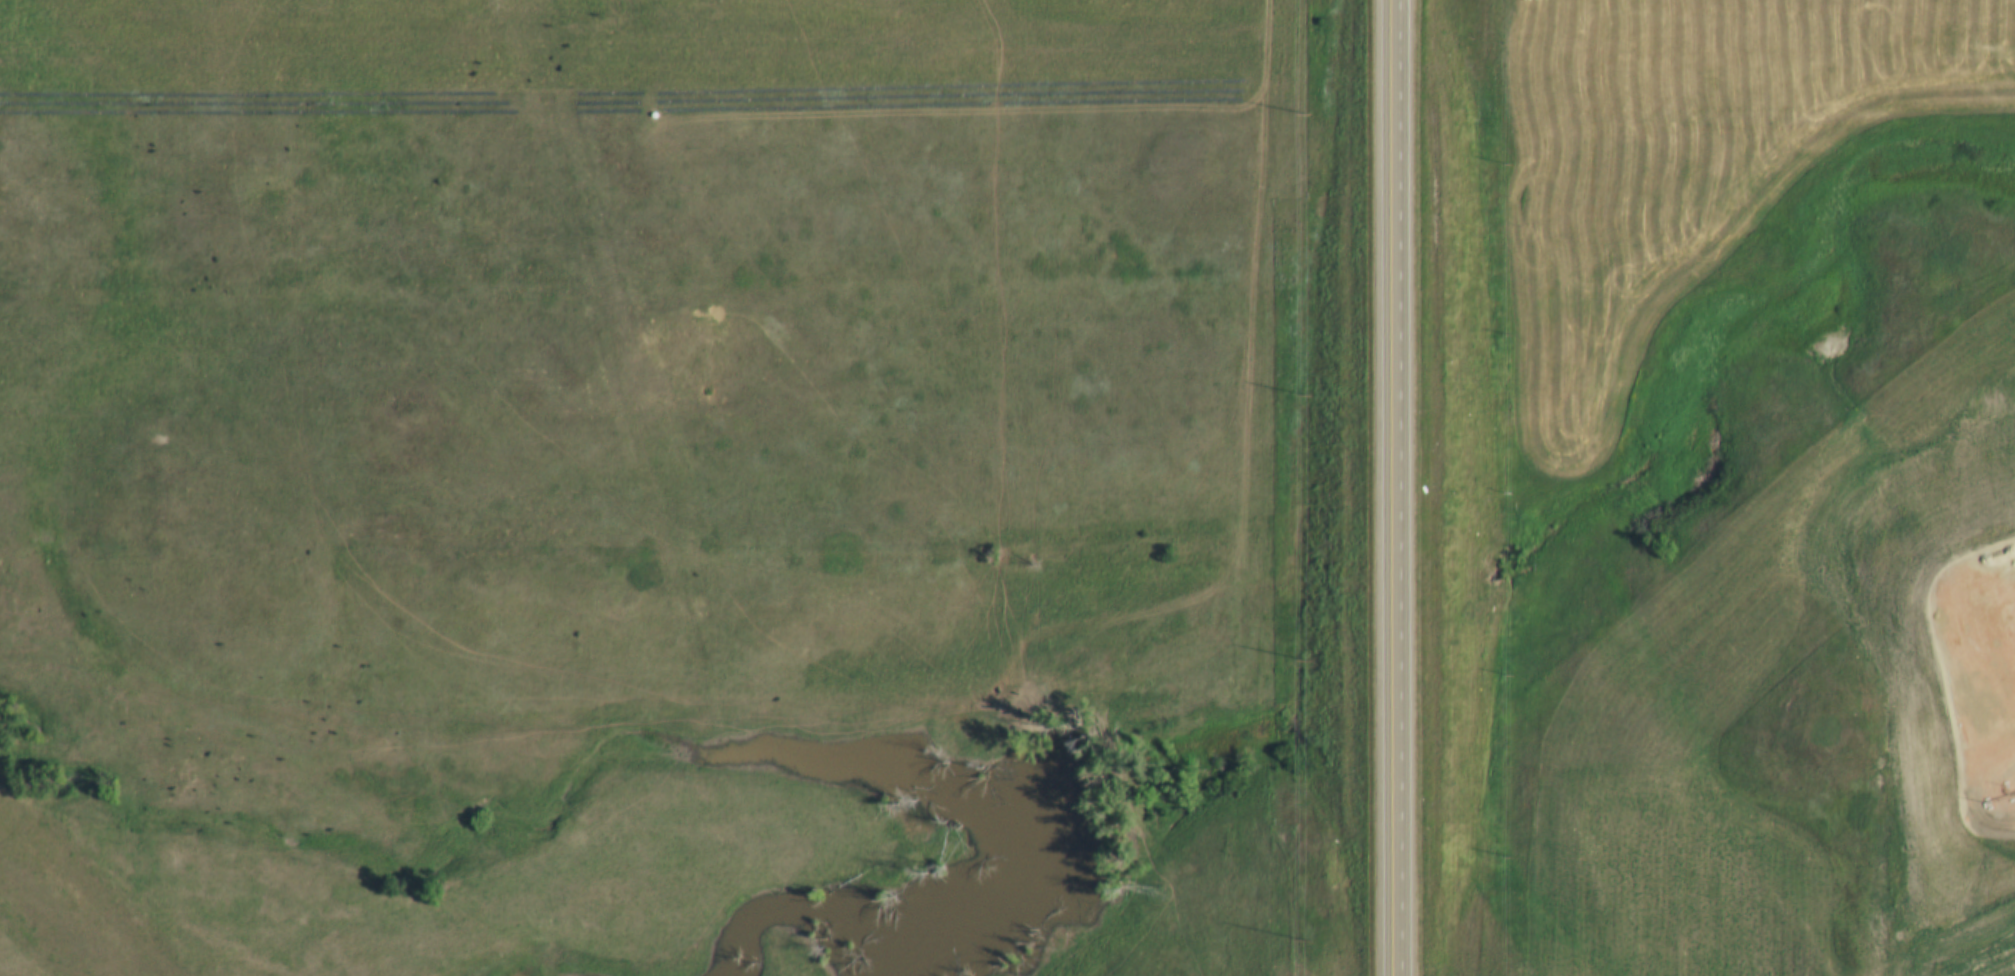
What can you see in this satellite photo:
road: (1393, 487)

